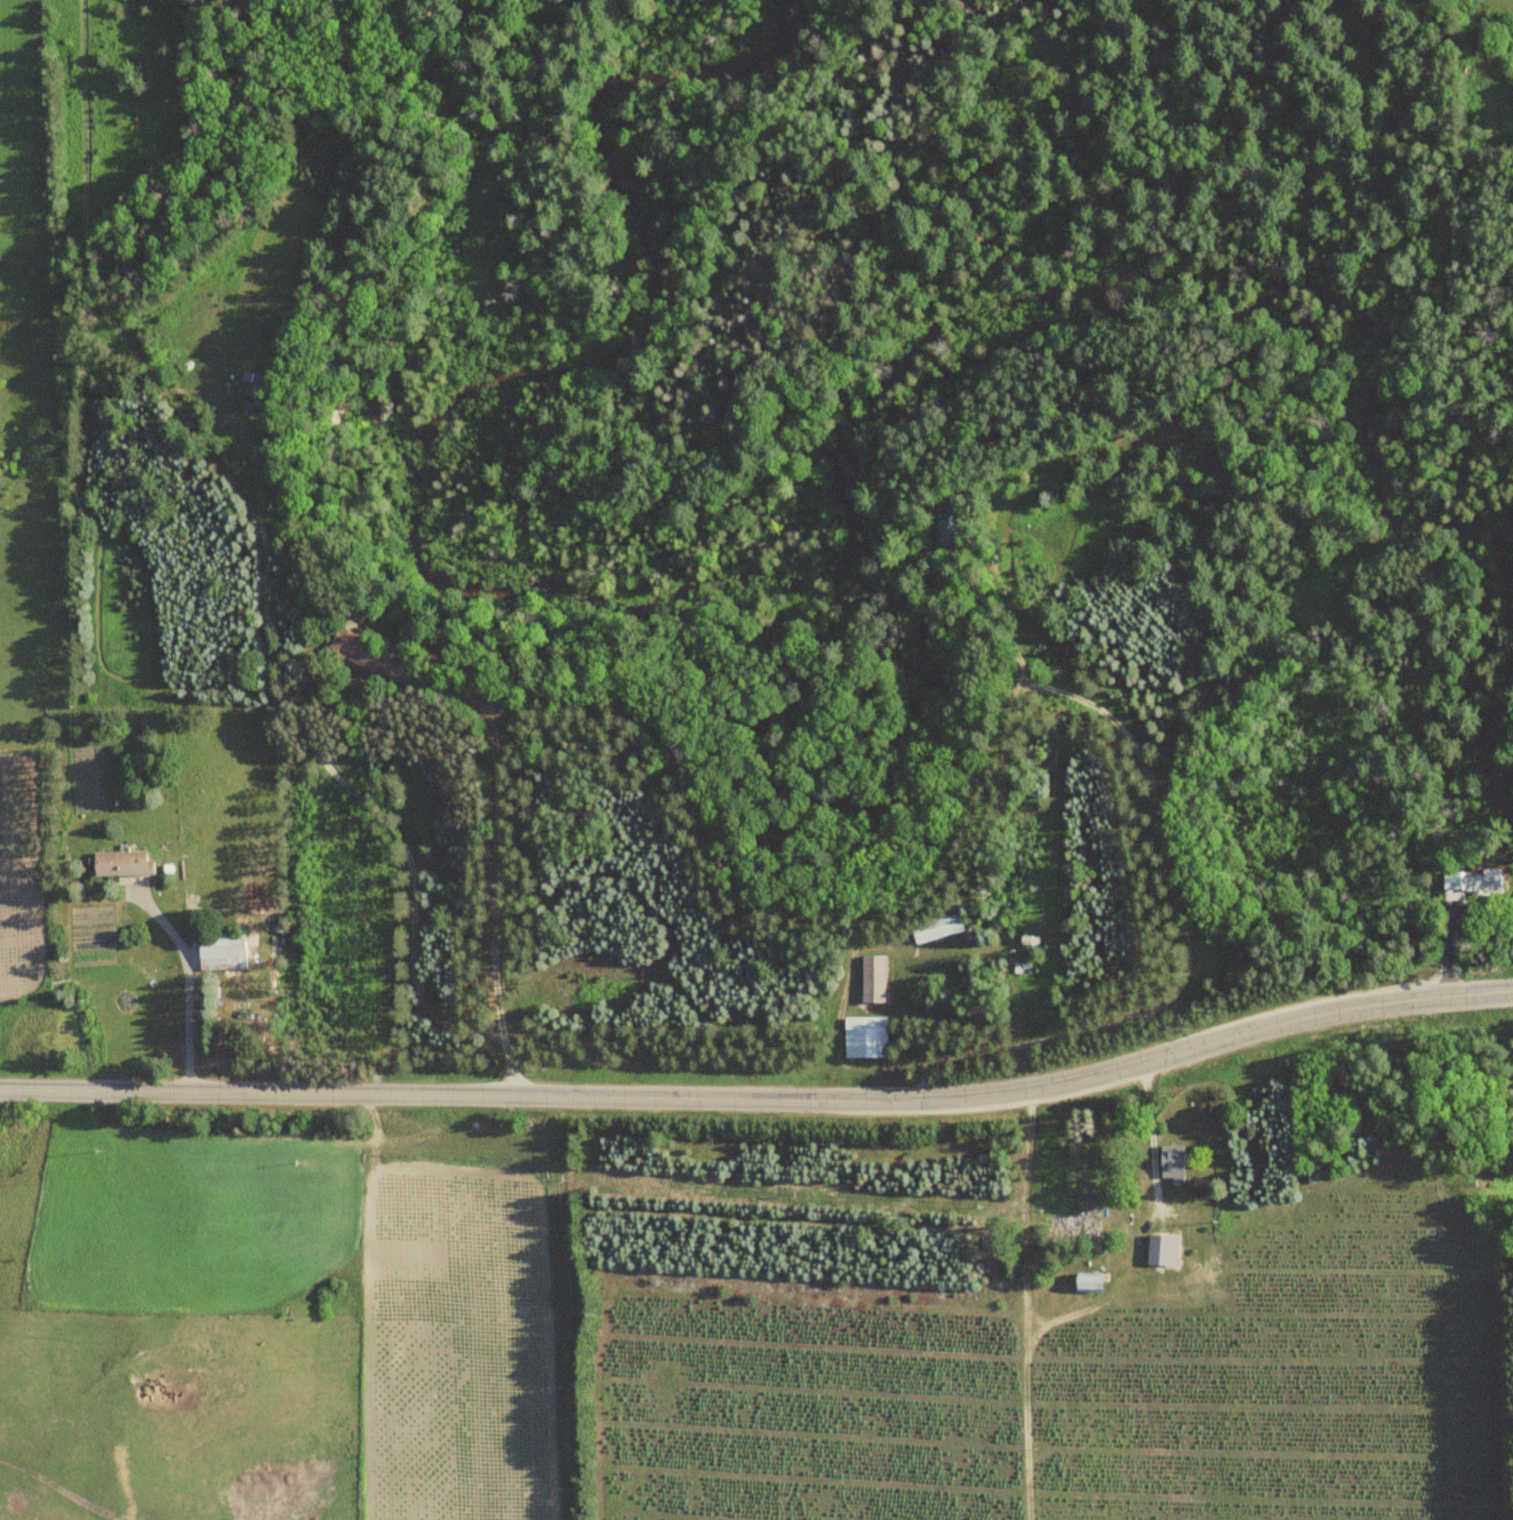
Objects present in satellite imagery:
building: (941, 521)
river: (729, 585)
building: (357, 651)
river: (1495, 747)
road: (501, 859)
building: (119, 863)
building: (1470, 881)
road: (1173, 882)
building: (935, 929)
building: (222, 952)
building: (872, 980)
building: (864, 1038)
road: (762, 1098)
building: (1171, 1158)
building: (1074, 1229)
building: (1158, 1246)
building: (1084, 1283)

